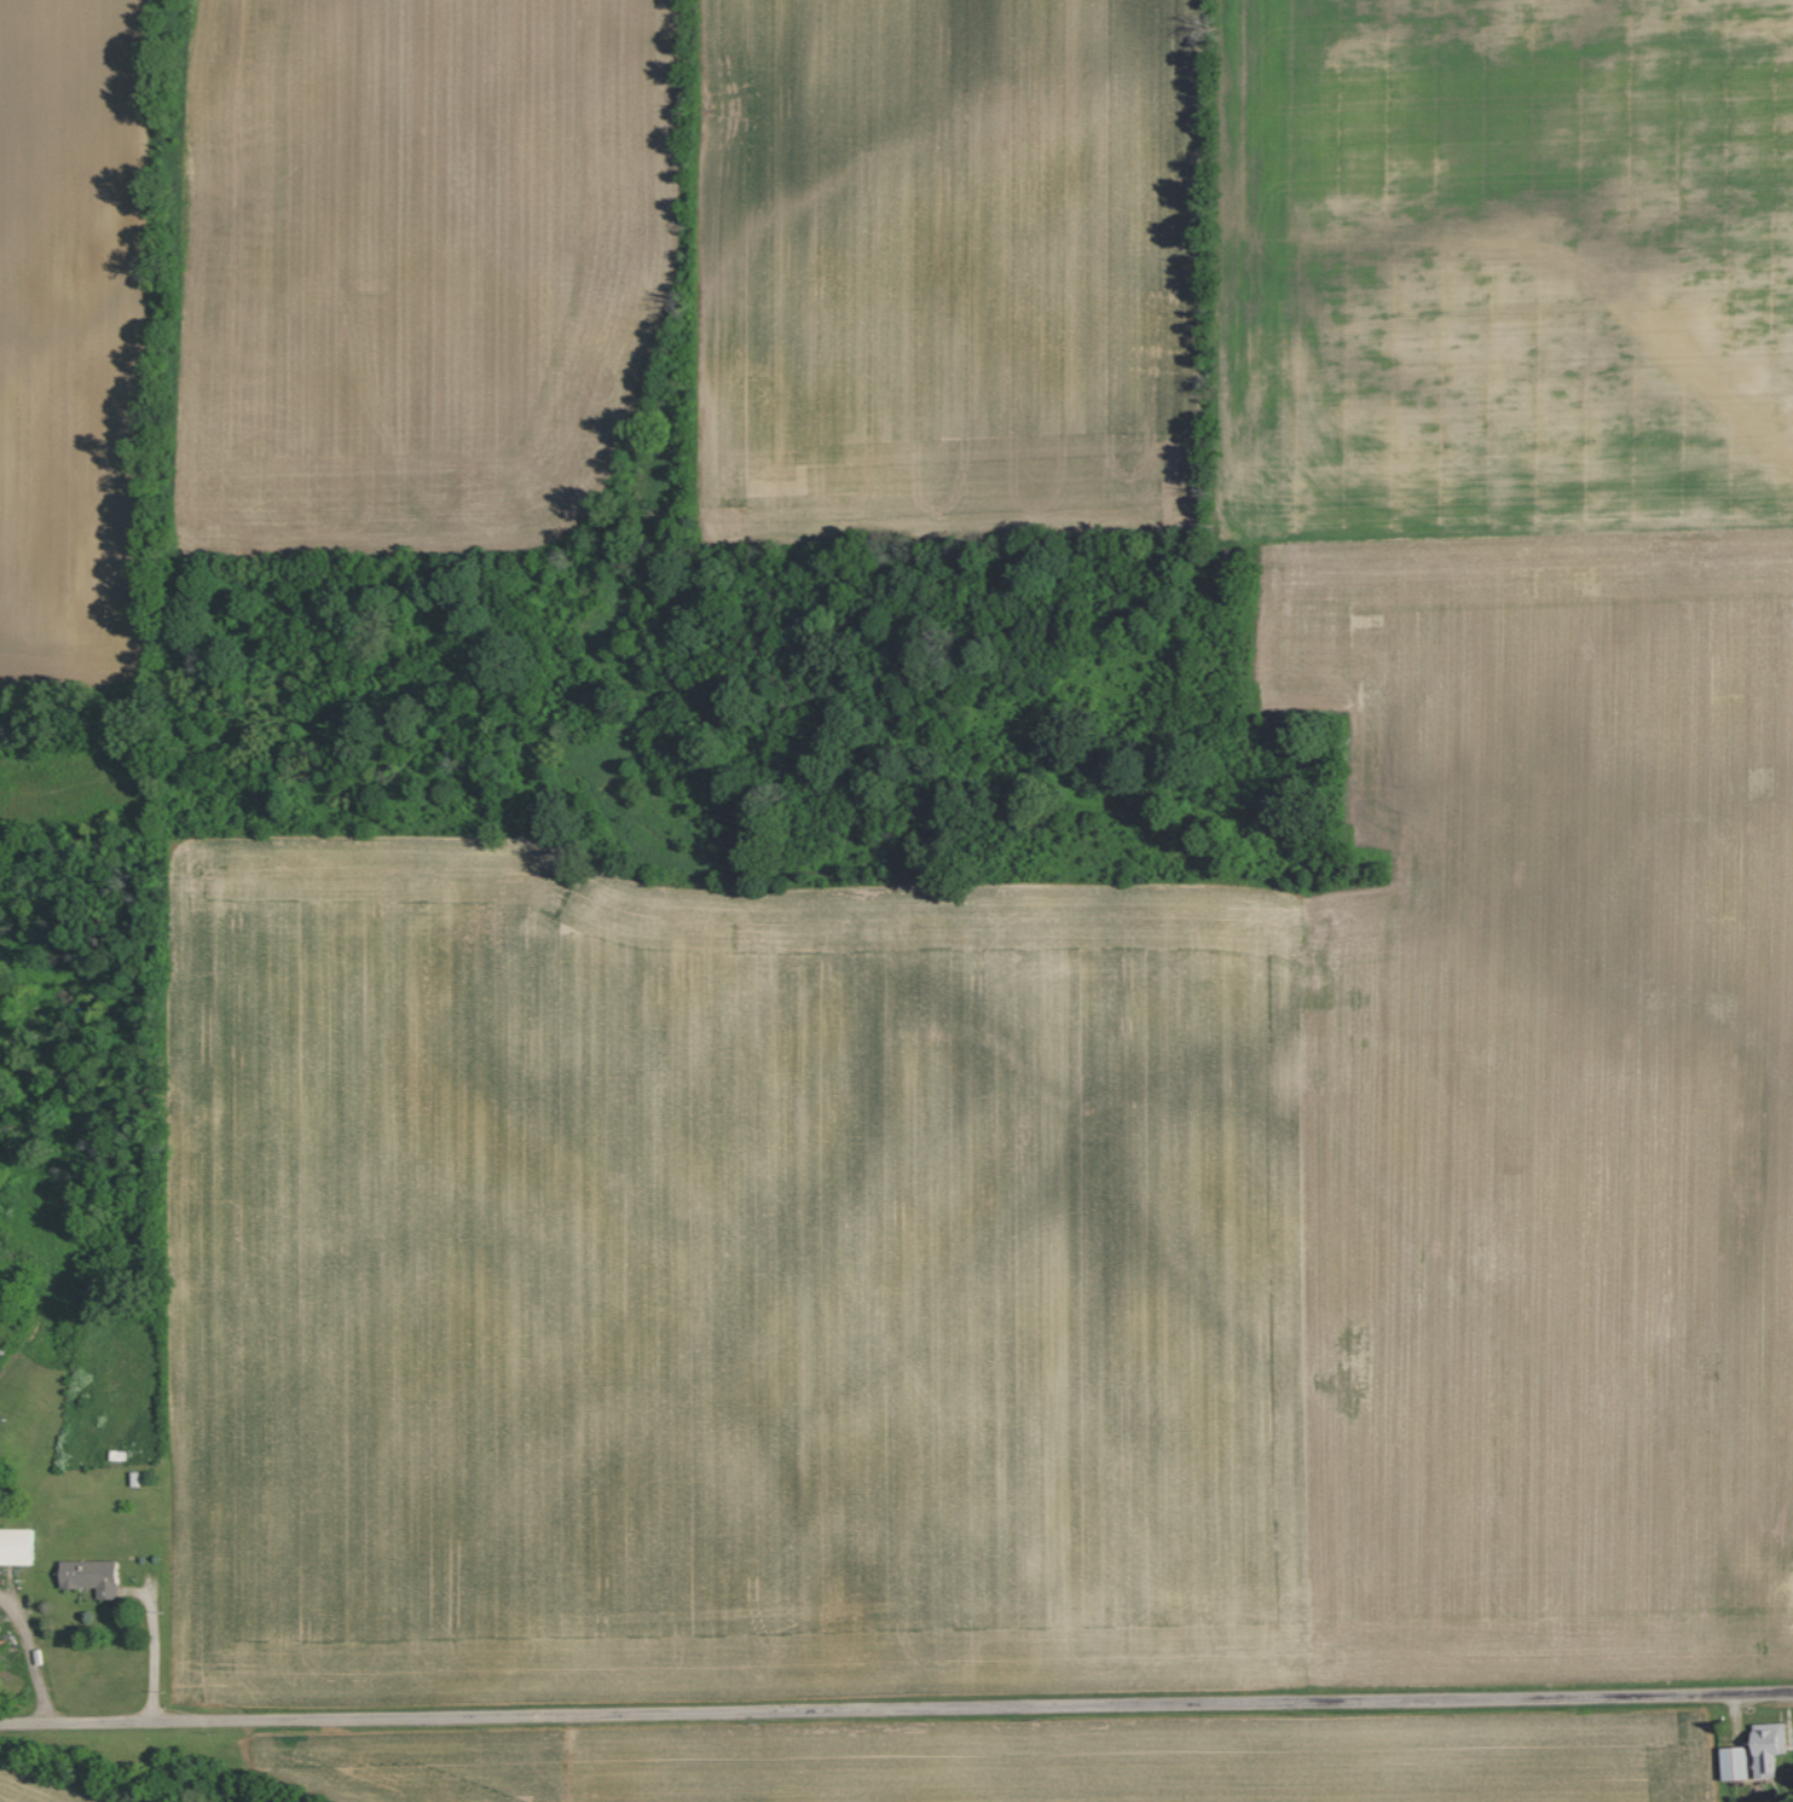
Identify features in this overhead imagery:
building: (16, 1547)
building: (88, 1577)
road: (152, 1653)
road: (29, 1656)
road: (896, 1705)

